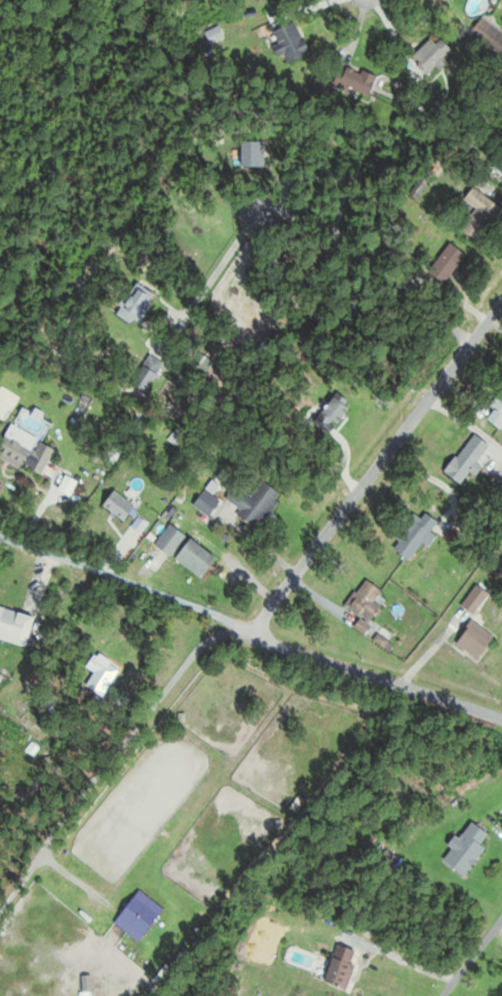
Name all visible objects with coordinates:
road: (362, 4)
building: (486, 34)
building: (291, 42)
building: (432, 55)
building: (481, 215)
road: (311, 219)
building: (446, 262)
building: (136, 306)
building: (180, 440)
building: (25, 452)
building: (467, 458)
road: (378, 466)
building: (256, 504)
building: (119, 506)
building: (417, 536)
building: (170, 540)
building: (196, 559)
building: (472, 604)
building: (365, 605)
building: (15, 625)
road: (252, 629)
building: (475, 641)
road: (112, 757)
building: (467, 847)
road: (76, 879)
building: (132, 923)
road: (472, 957)
building: (341, 965)

